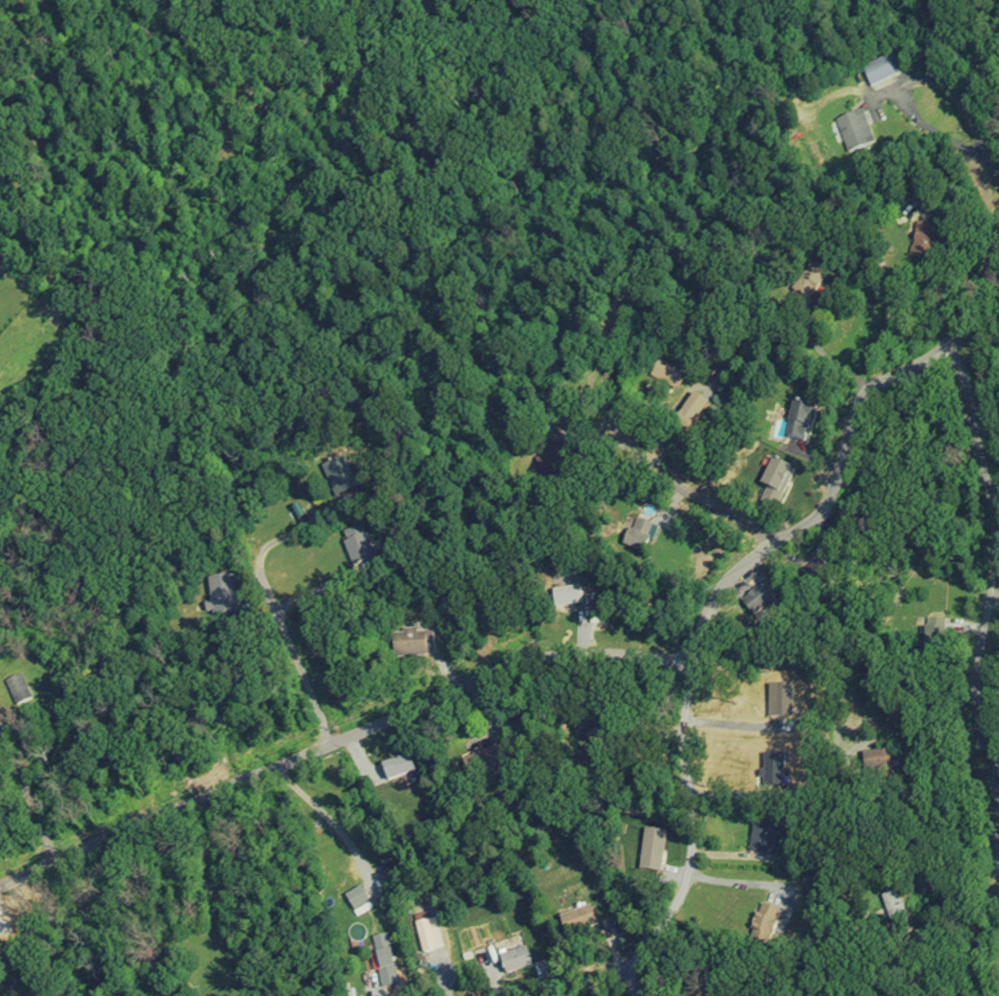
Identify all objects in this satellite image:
building: (877, 73)
road: (908, 82)
building: (855, 131)
road: (994, 167)
building: (920, 240)
road: (831, 361)
building: (688, 414)
building: (799, 423)
building: (551, 460)
building: (773, 486)
road: (699, 499)
building: (358, 550)
road: (725, 577)
building: (222, 596)
road: (985, 609)
road: (285, 621)
building: (934, 639)
building: (411, 644)
building: (16, 690)
road: (335, 728)
building: (397, 768)
road: (940, 771)
road: (29, 779)
building: (760, 837)
building: (354, 900)
building: (577, 922)
building: (762, 924)
building: (382, 961)
building: (514, 961)
road: (593, 977)

